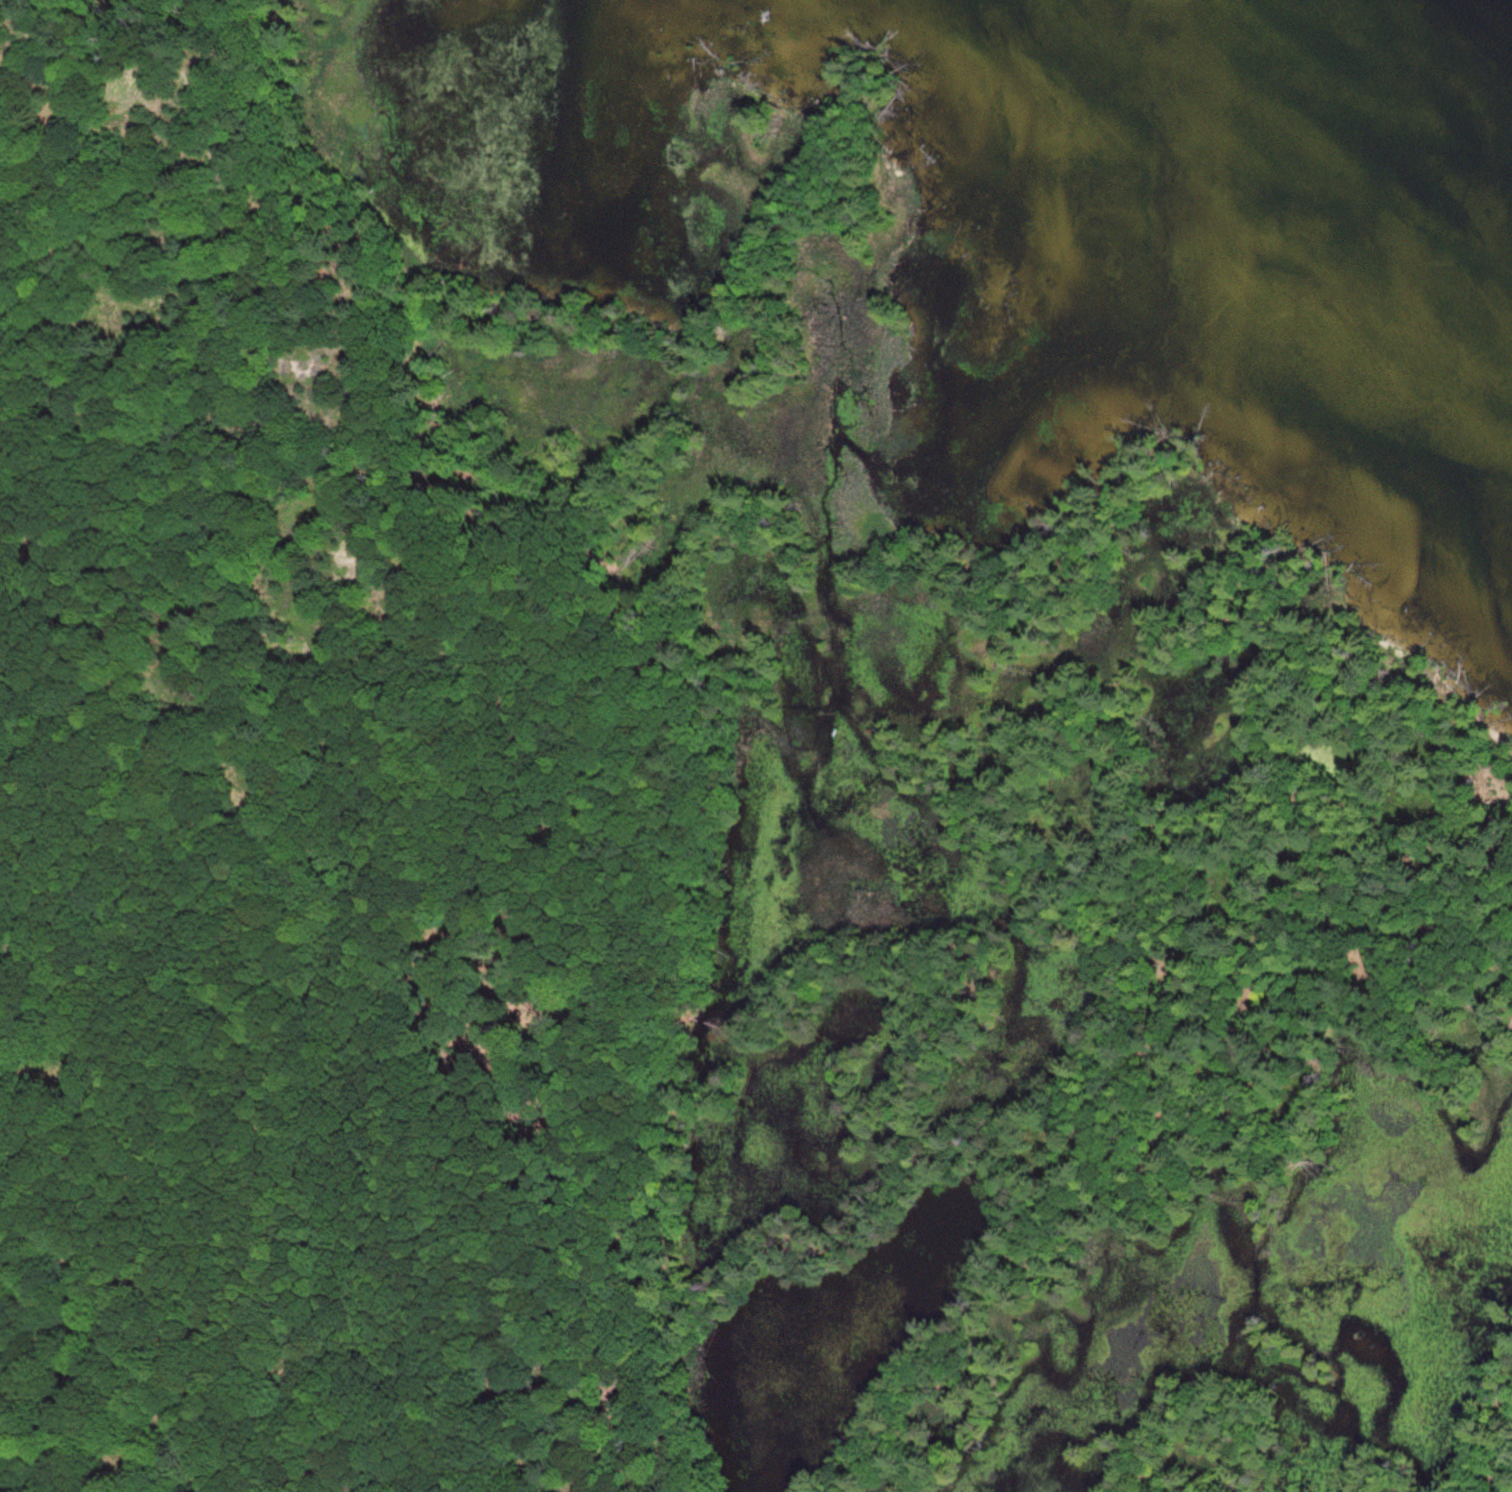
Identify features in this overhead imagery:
park: (682, 859)

